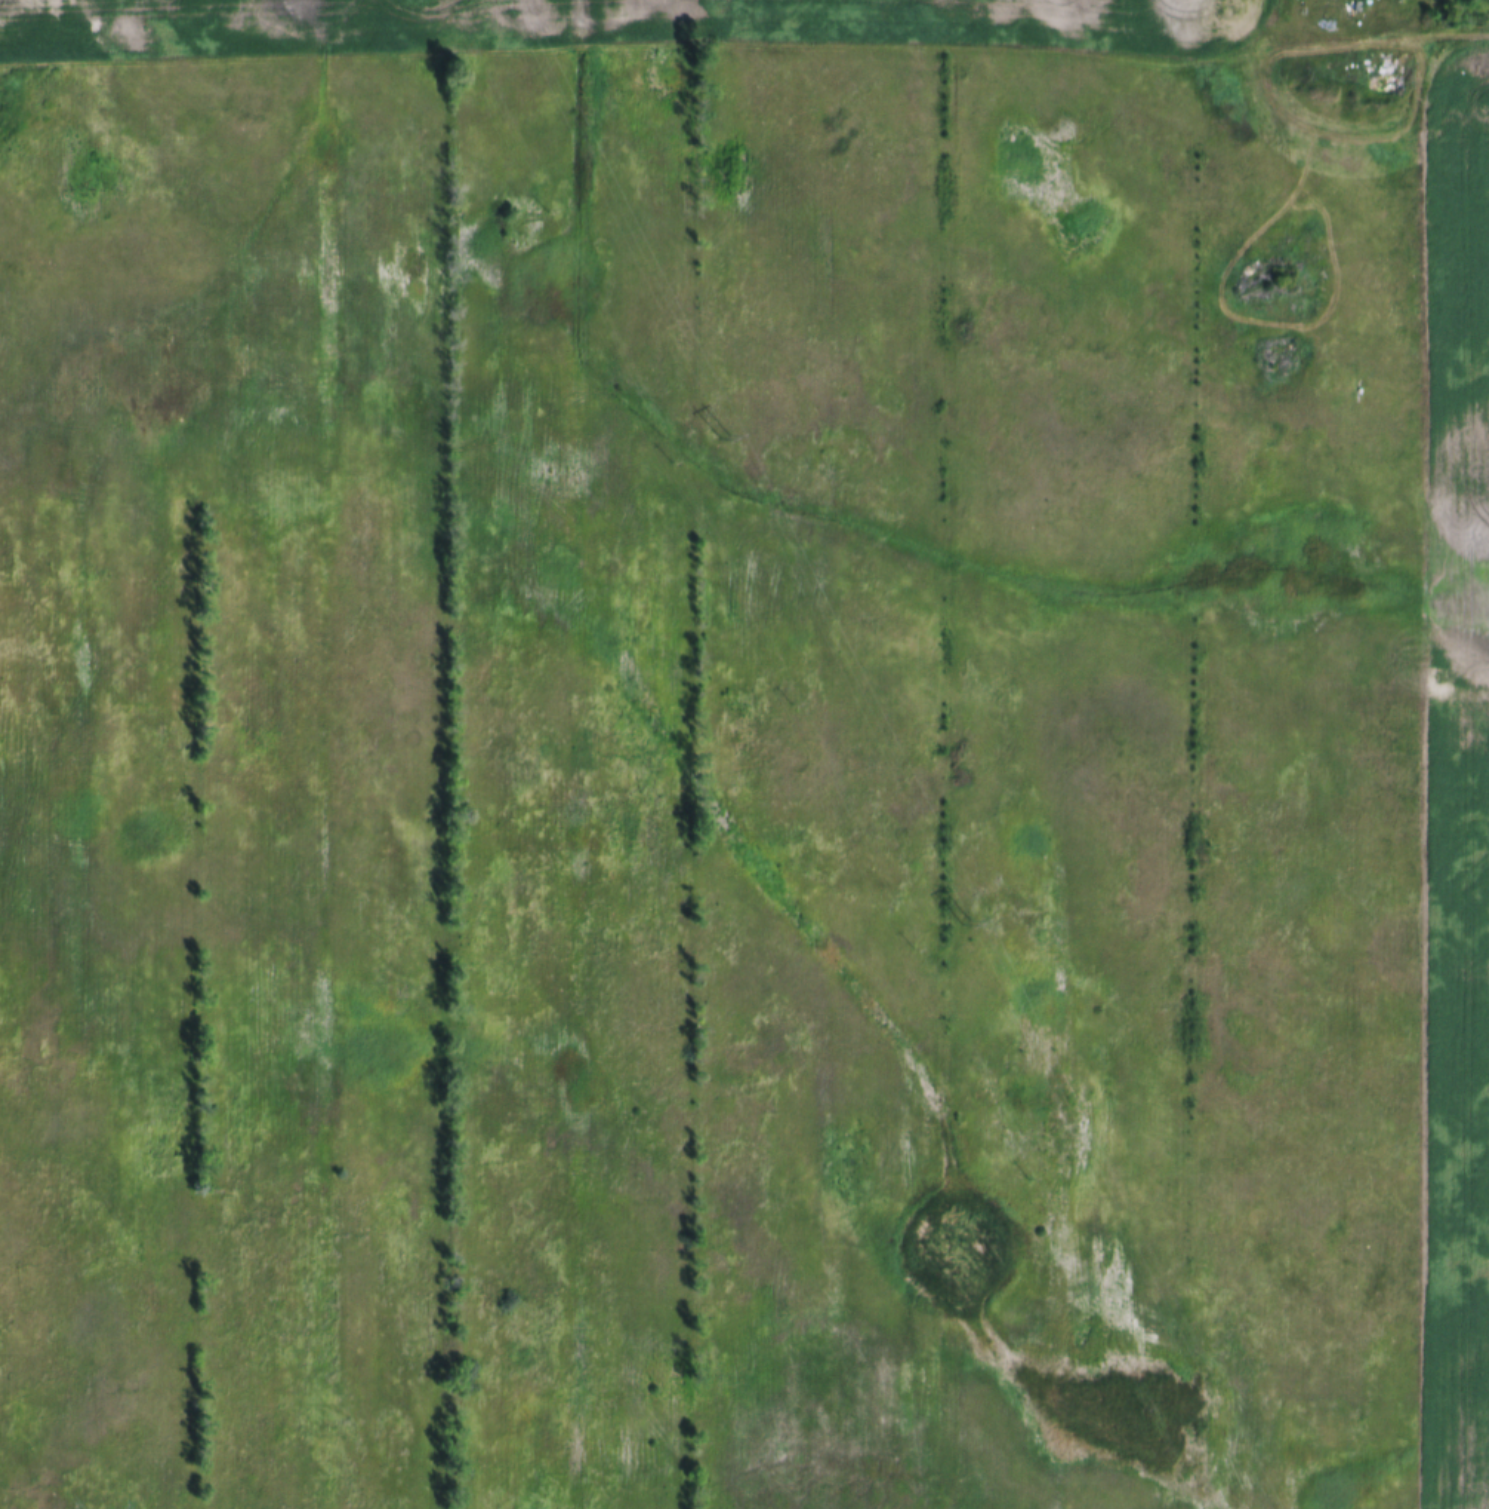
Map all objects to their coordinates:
road: (982, 34)
power tower: (722, 438)
power tower: (962, 923)

